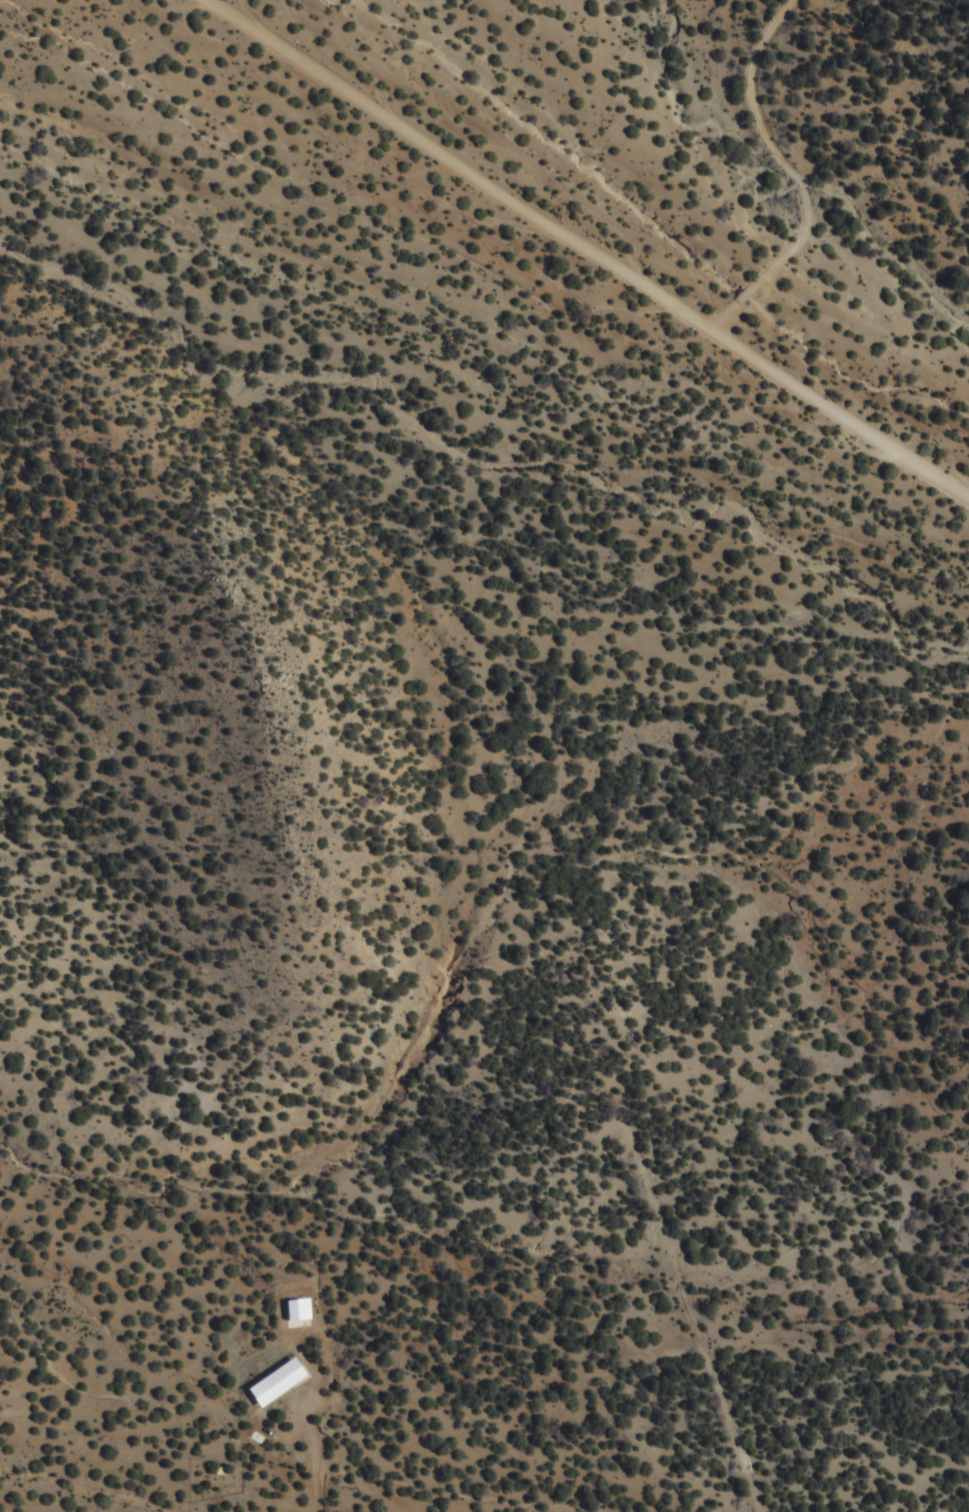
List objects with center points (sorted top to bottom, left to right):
road: (589, 250)
building: (282, 1382)

